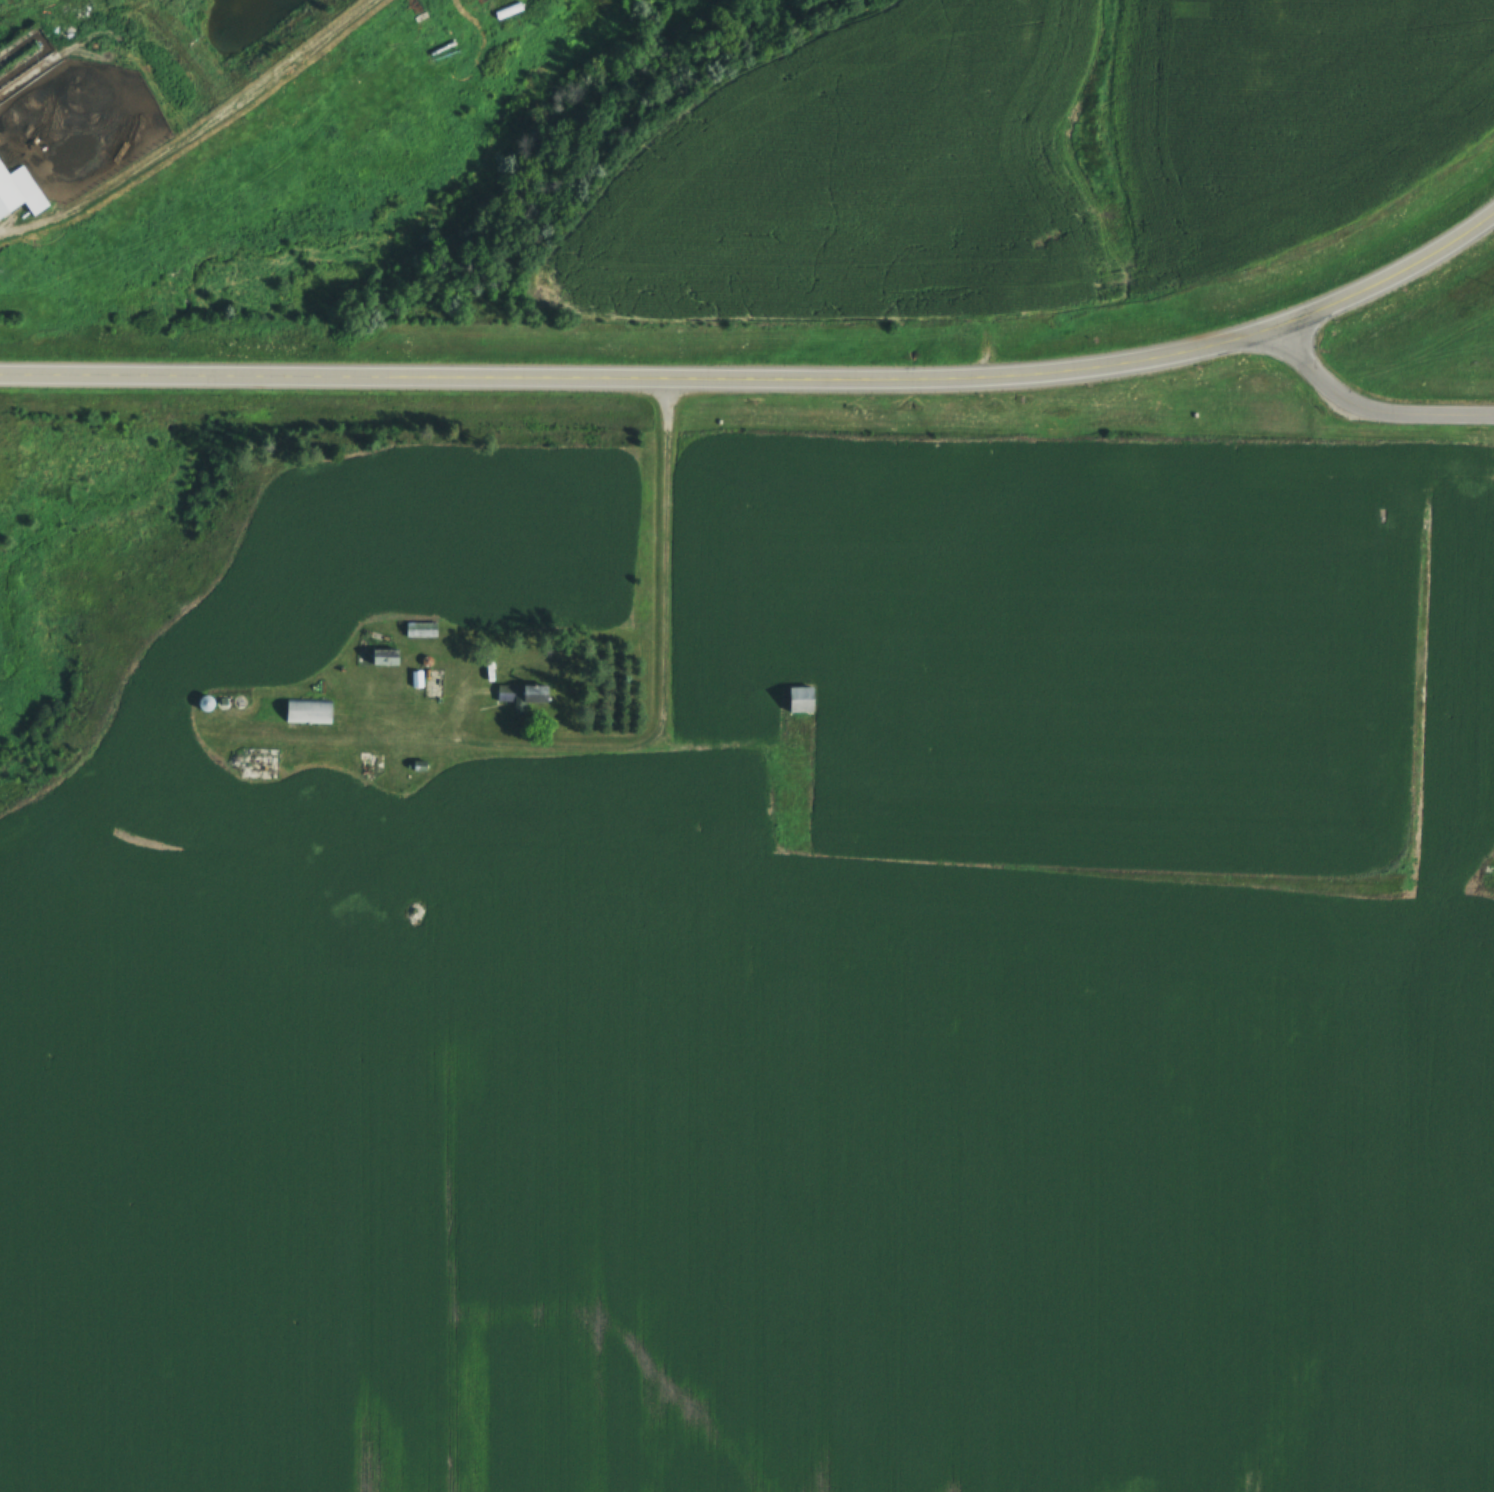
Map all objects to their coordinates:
building: (475, 45)
road: (1299, 318)
road: (540, 372)
road: (1370, 406)
building: (523, 695)
building: (804, 700)
building: (310, 711)
road: (642, 737)
crop: (1126, 1190)

